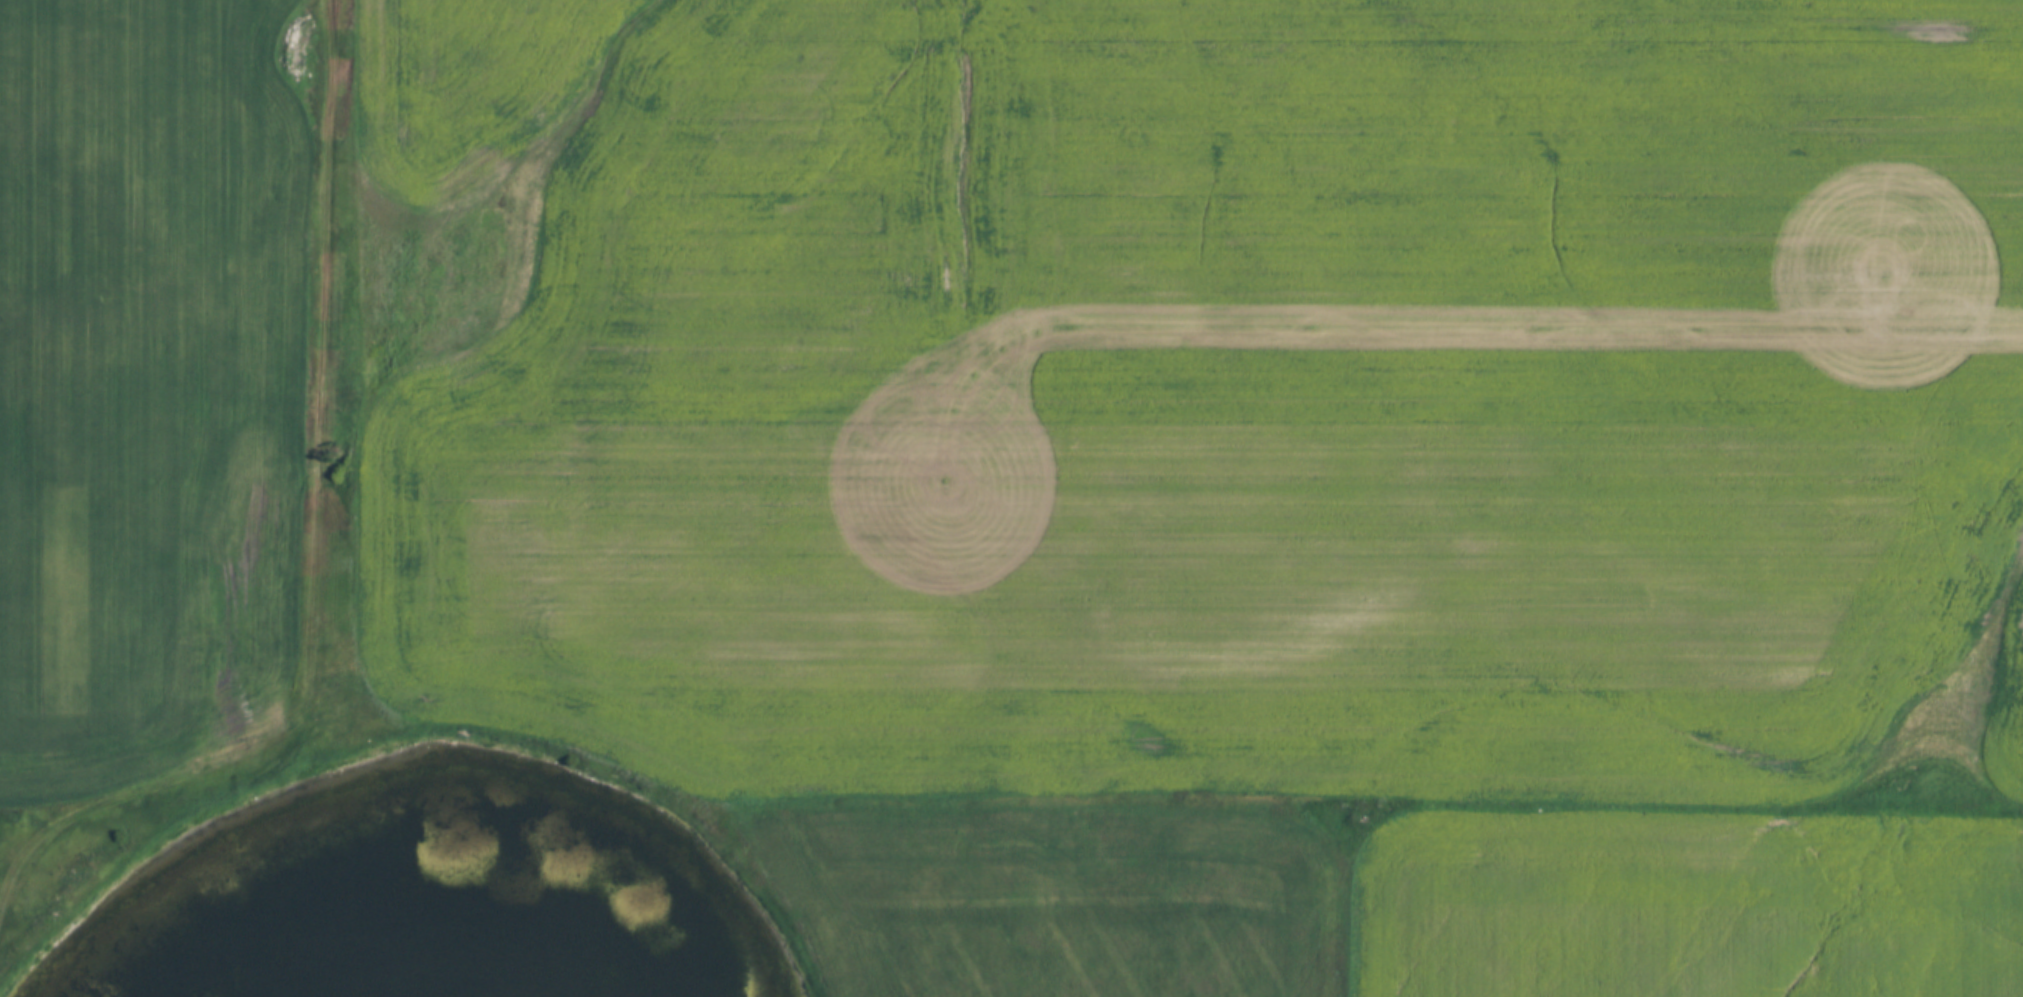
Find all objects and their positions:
wind turbine: (1897, 270)
wind turbine: (929, 454)
road: (315, 545)

